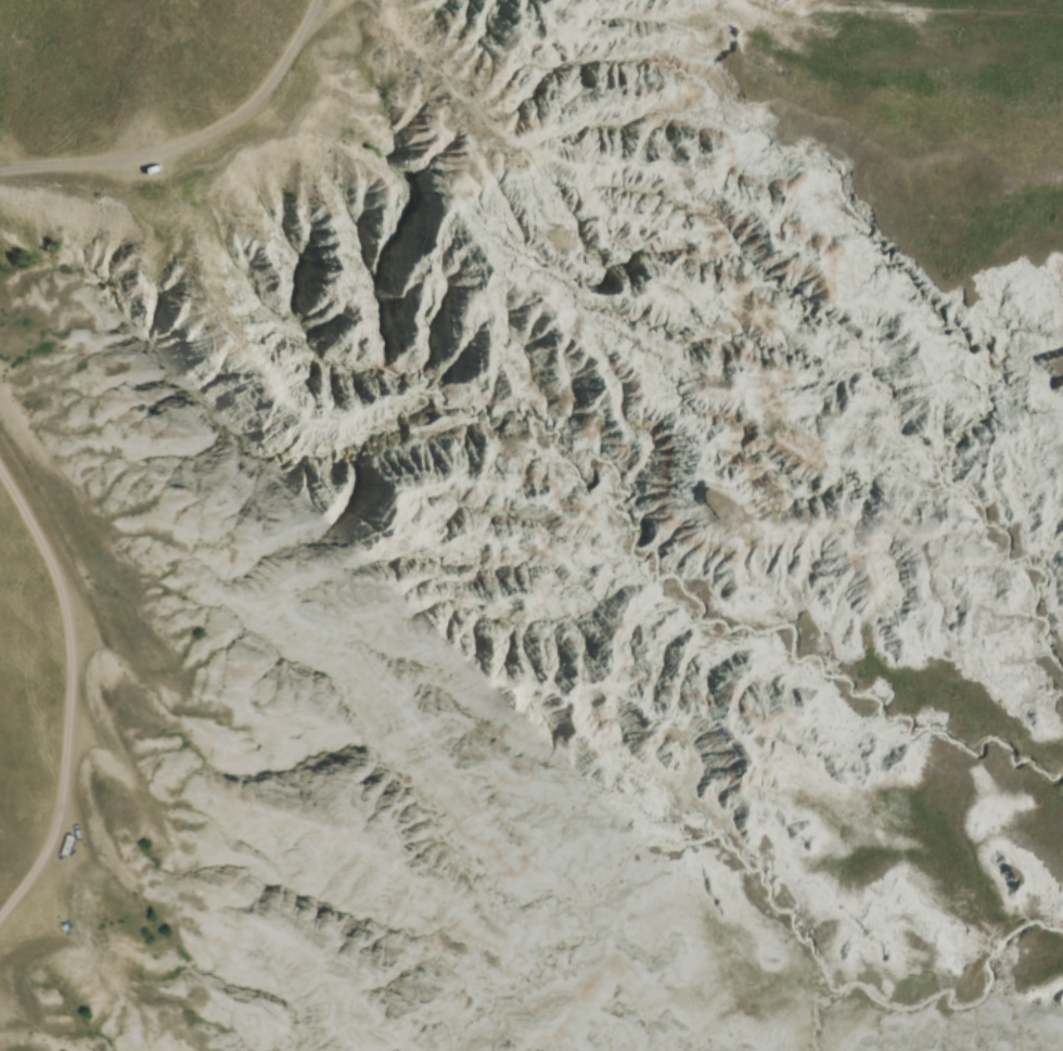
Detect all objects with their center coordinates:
road: (198, 145)
road: (60, 691)

